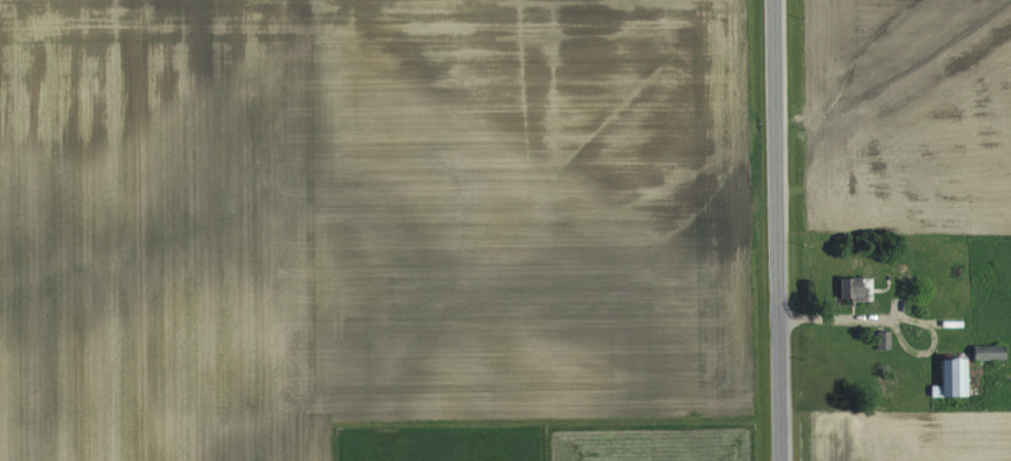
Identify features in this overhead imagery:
road: (774, 230)
building: (845, 288)
building: (881, 339)
building: (947, 377)

